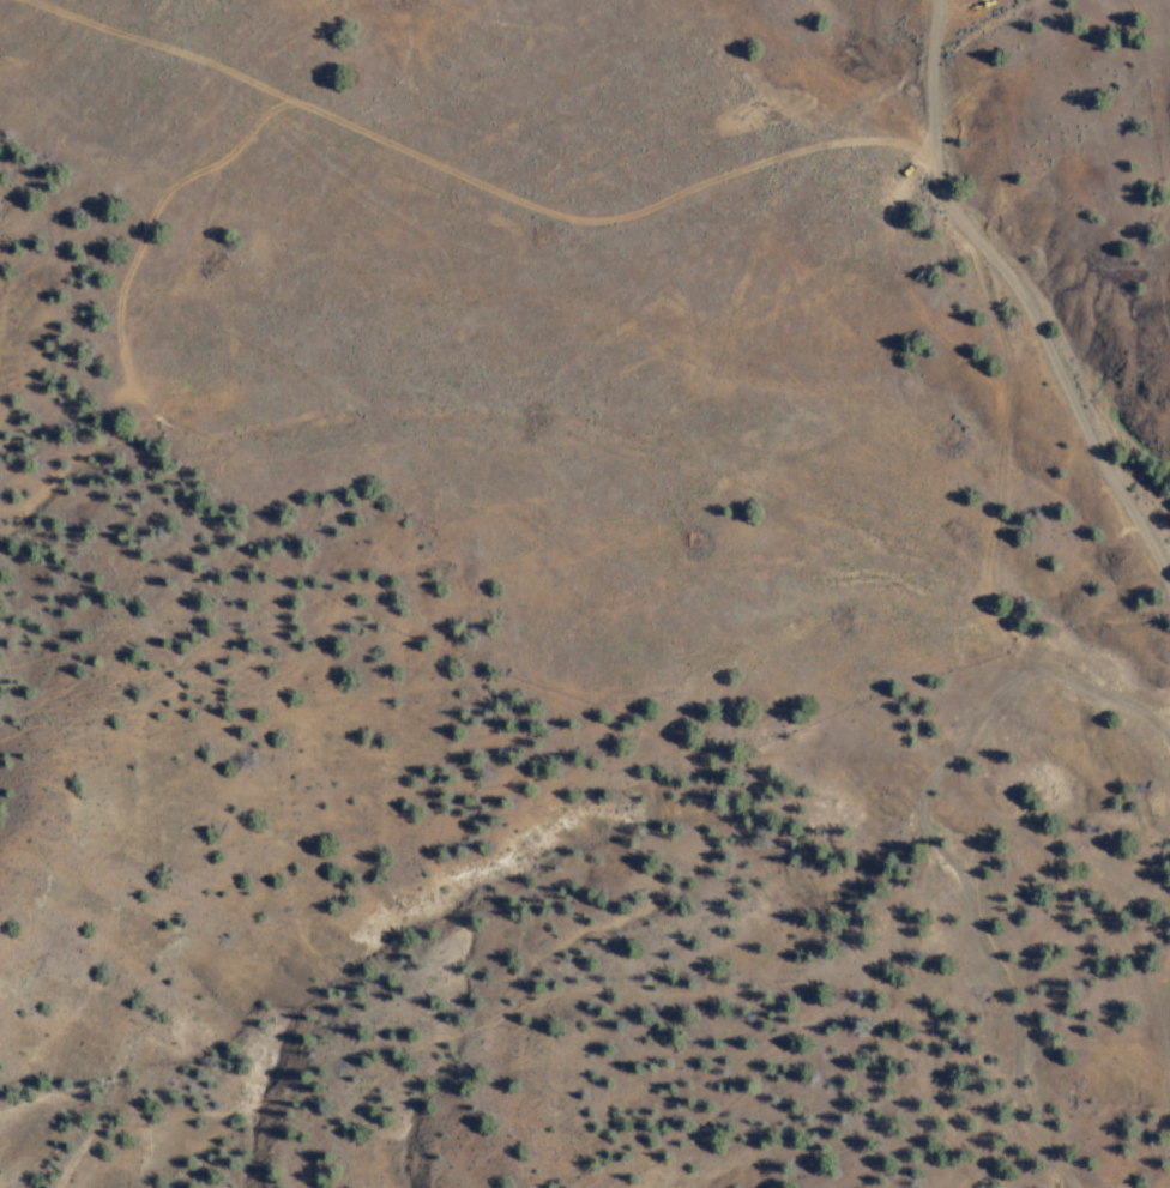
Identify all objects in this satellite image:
road: (909, 412)

